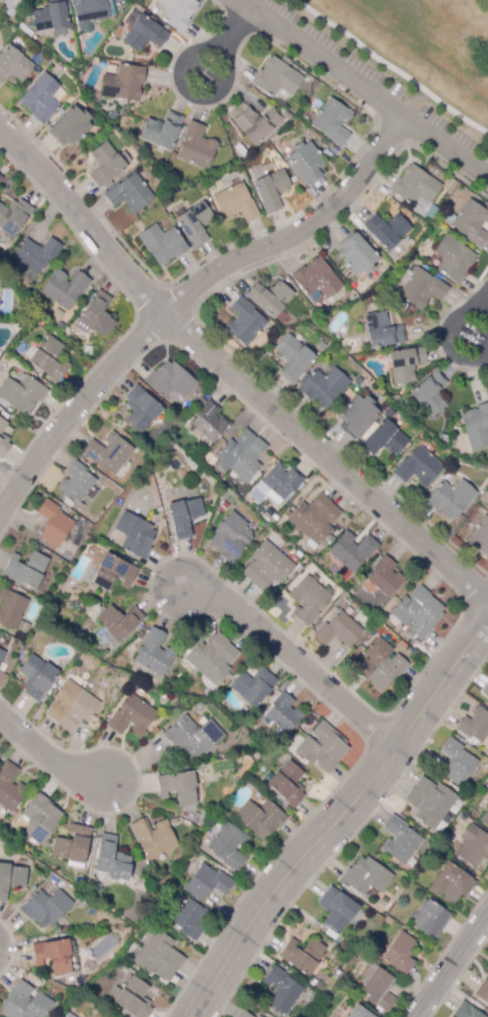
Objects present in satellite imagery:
airport: (486, 0)
building: (11, 7)
building: (90, 10)
building: (177, 12)
building: (52, 15)
road: (233, 28)
building: (143, 32)
road: (224, 55)
building: (14, 63)
road: (390, 66)
building: (277, 77)
building: (123, 83)
road: (363, 89)
building: (41, 98)
building: (315, 105)
building: (332, 121)
building: (257, 123)
building: (71, 126)
building: (162, 130)
building: (197, 146)
building: (306, 161)
building: (105, 164)
building: (0, 175)
building: (1, 177)
building: (416, 185)
building: (271, 190)
building: (129, 194)
building: (235, 203)
building: (13, 217)
road: (82, 222)
building: (194, 222)
building: (471, 223)
building: (386, 230)
road: (298, 234)
building: (162, 244)
building: (356, 254)
building: (37, 256)
building: (454, 258)
building: (317, 278)
building: (65, 288)
building: (422, 288)
building: (270, 298)
road: (483, 303)
building: (96, 315)
building: (245, 322)
building: (382, 330)
road: (444, 335)
building: (48, 359)
building: (294, 359)
building: (406, 364)
building: (170, 380)
building: (359, 380)
building: (323, 386)
building: (22, 393)
building: (429, 394)
building: (384, 405)
building: (141, 408)
road: (75, 409)
building: (388, 413)
building: (358, 416)
building: (208, 422)
building: (476, 426)
building: (385, 439)
building: (3, 440)
building: (168, 446)
building: (109, 452)
building: (241, 455)
road: (324, 457)
building: (418, 467)
building: (183, 475)
building: (77, 481)
building: (281, 483)
building: (451, 498)
building: (223, 507)
building: (487, 508)
building: (184, 516)
building: (313, 519)
building: (54, 524)
building: (479, 534)
building: (136, 535)
building: (231, 536)
building: (352, 550)
building: (267, 566)
building: (26, 569)
building: (113, 572)
building: (385, 577)
building: (308, 599)
building: (12, 610)
building: (418, 612)
building: (118, 623)
building: (339, 630)
building: (154, 653)
building: (2, 655)
building: (212, 658)
road: (294, 661)
building: (381, 665)
building: (37, 677)
building: (154, 681)
building: (253, 686)
building: (486, 689)
building: (74, 705)
building: (284, 713)
building: (132, 716)
building: (475, 724)
building: (193, 736)
building: (323, 747)
road: (47, 754)
building: (236, 761)
building: (457, 762)
building: (287, 784)
building: (180, 786)
building: (10, 787)
building: (430, 801)
road: (340, 815)
building: (40, 817)
building: (484, 817)
building: (261, 818)
building: (153, 837)
building: (399, 840)
building: (471, 845)
building: (73, 846)
building: (228, 846)
building: (111, 859)
building: (366, 876)
building: (11, 879)
building: (207, 882)
building: (452, 883)
building: (46, 907)
building: (339, 909)
building: (189, 918)
building: (431, 919)
building: (400, 952)
building: (53, 955)
building: (302, 955)
building: (159, 956)
road: (452, 967)
building: (379, 989)
building: (281, 990)
building: (482, 992)
building: (132, 998)
building: (25, 1003)
building: (467, 1011)
building: (358, 1012)
building: (65, 1014)
building: (242, 1014)
building: (258, 1016)

